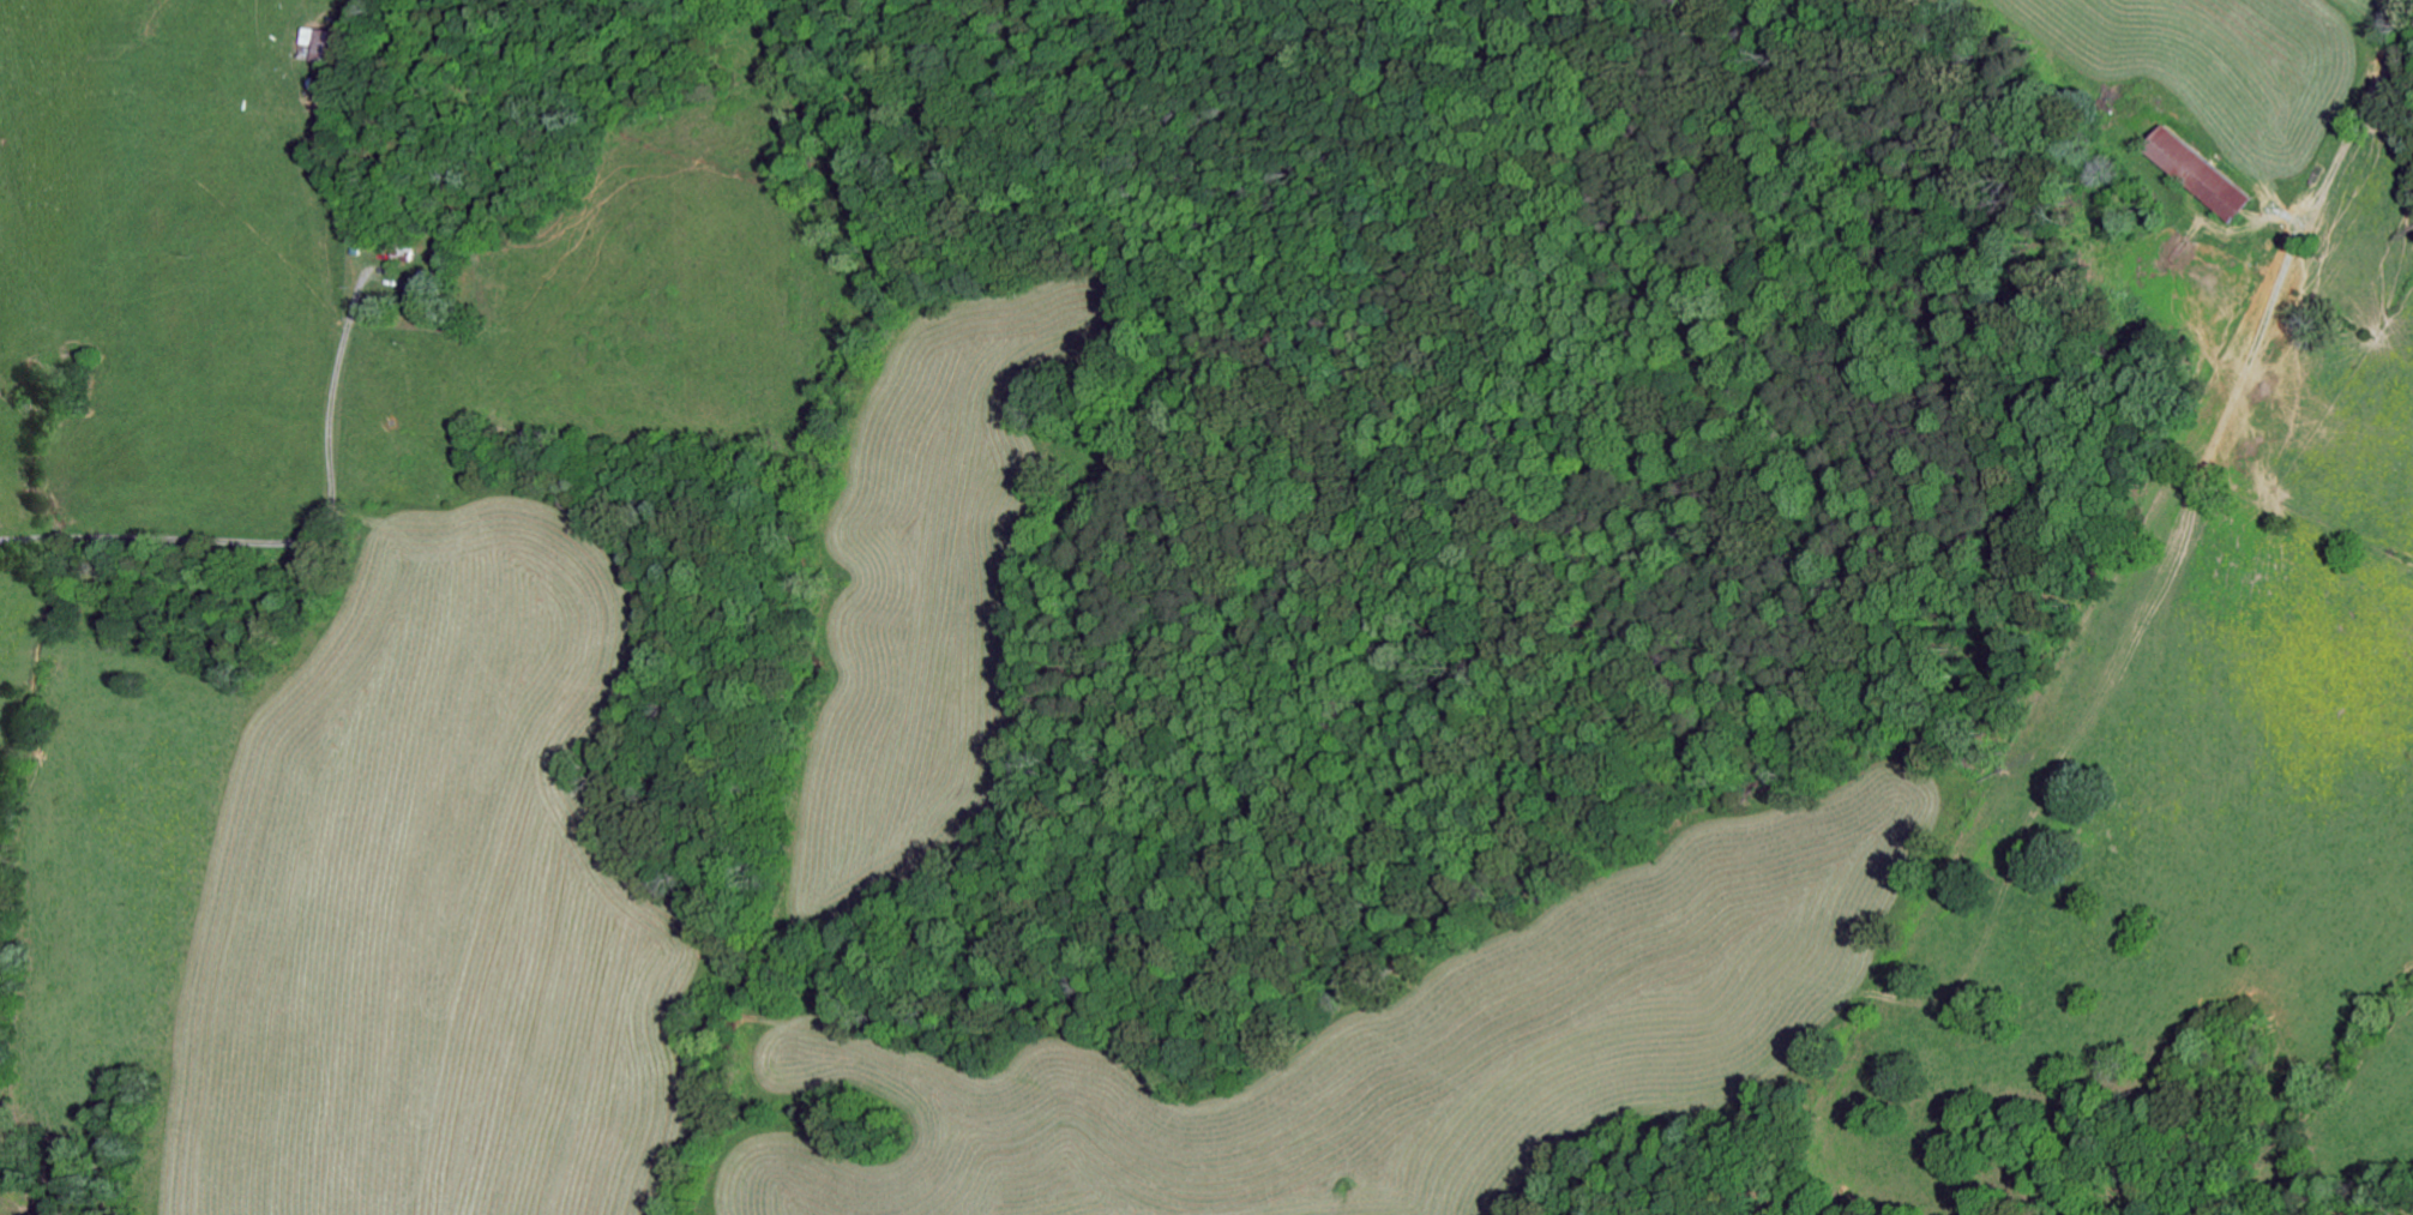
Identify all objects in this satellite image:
building: (411, 294)
road: (306, 497)

